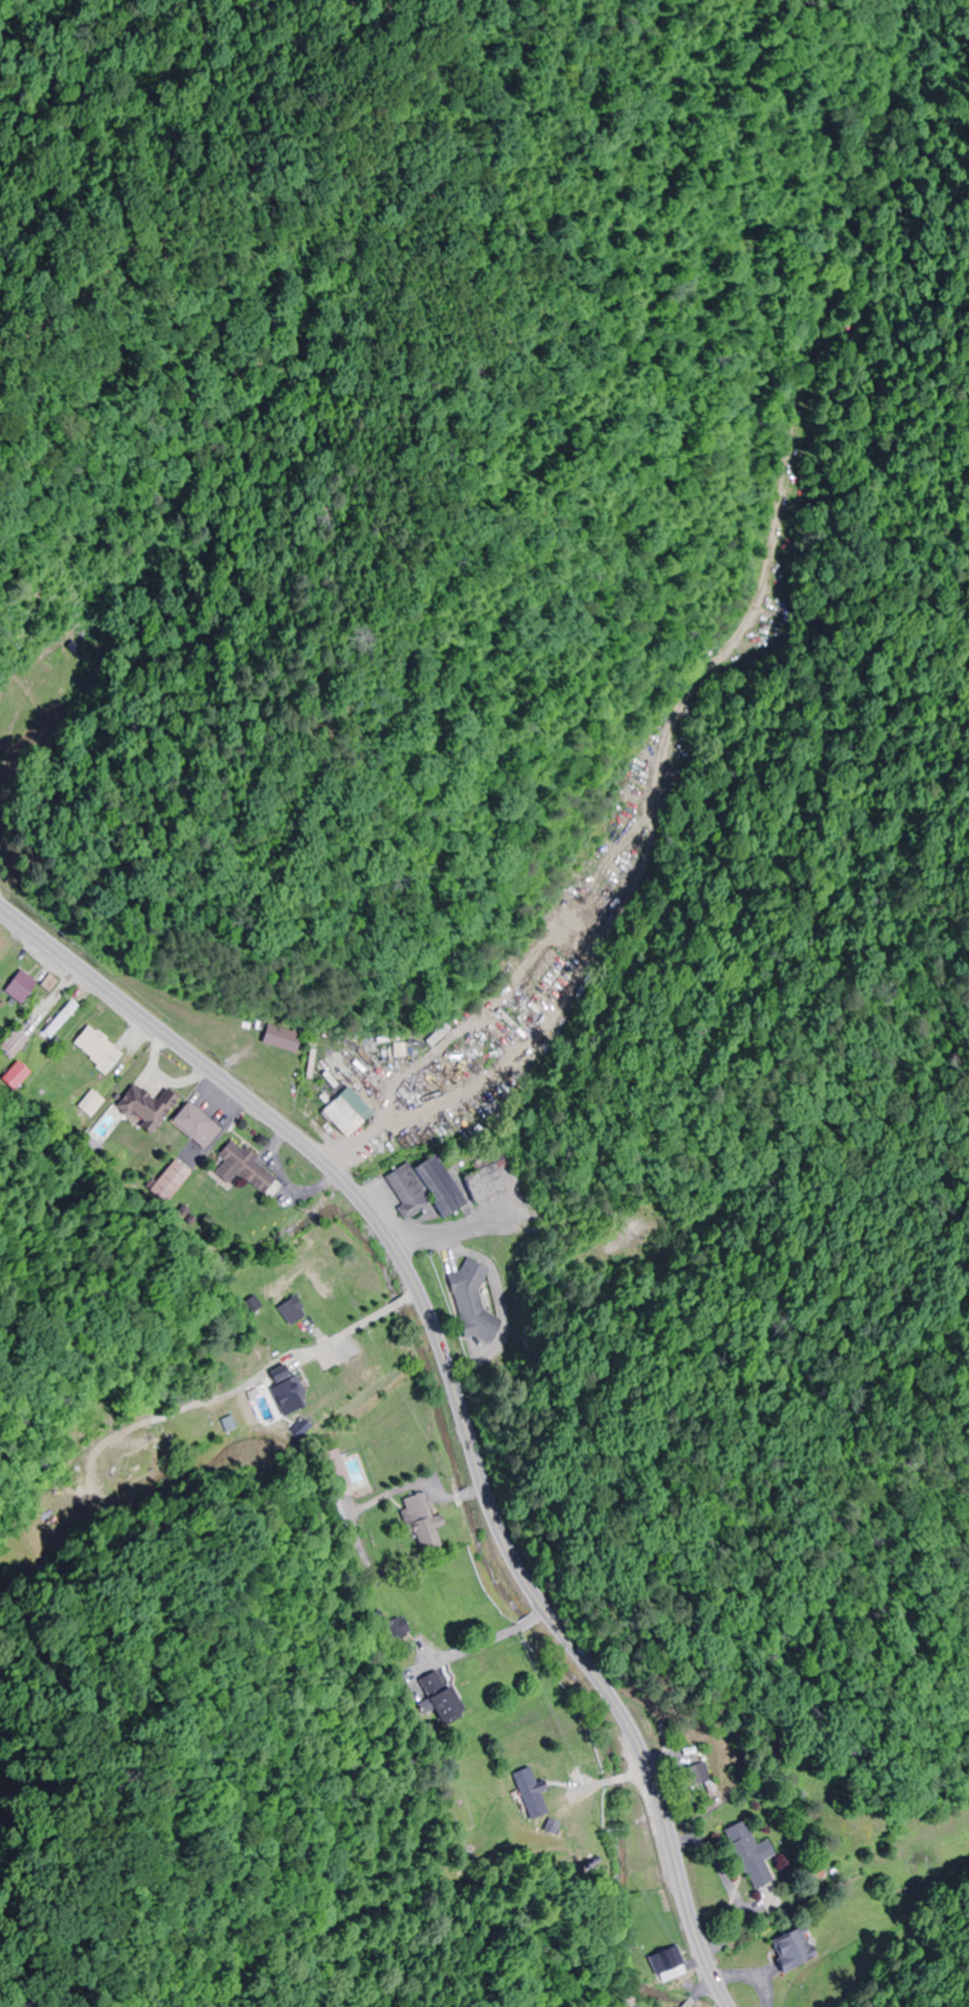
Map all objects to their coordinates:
building: (76, 648)
road: (607, 812)
building: (46, 982)
building: (16, 987)
building: (57, 1020)
building: (434, 1035)
building: (9, 1043)
building: (94, 1049)
building: (14, 1075)
building: (141, 1108)
building: (341, 1112)
building: (190, 1126)
building: (240, 1168)
building: (478, 1180)
building: (420, 1188)
building: (470, 1303)
building: (290, 1310)
building: (285, 1391)
road: (452, 1393)
building: (333, 1470)
building: (419, 1521)
building: (397, 1628)
building: (435, 1697)
building: (691, 1776)
building: (537, 1794)
building: (638, 1848)
building: (746, 1854)
building: (790, 1947)
building: (662, 1959)
building: (620, 2001)

